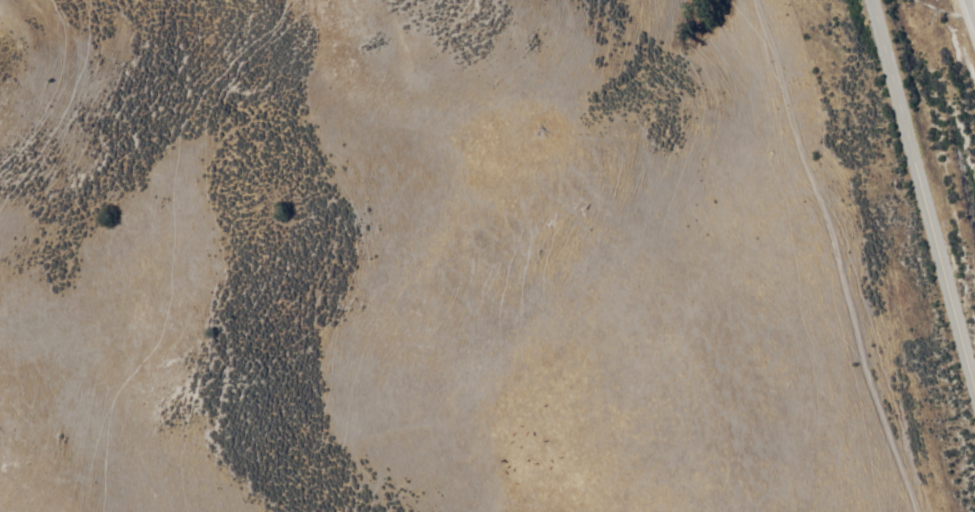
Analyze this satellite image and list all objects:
road: (920, 198)

